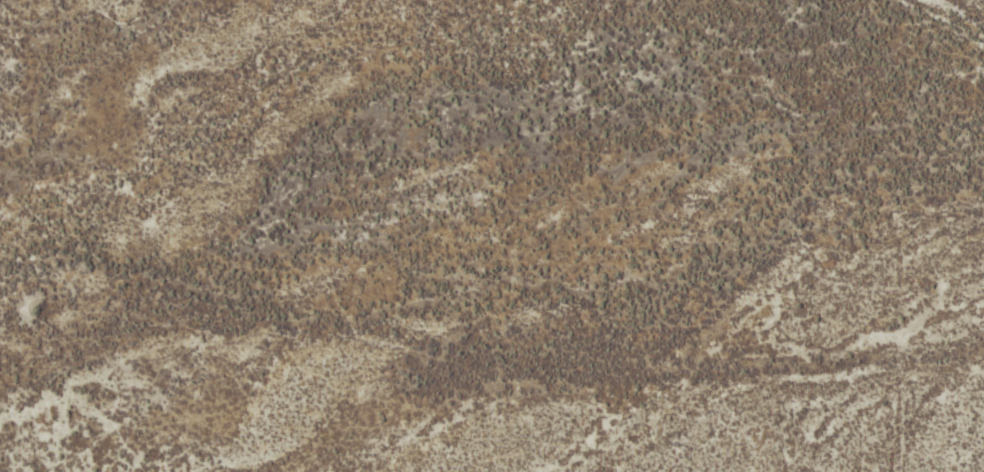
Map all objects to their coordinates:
crop: (492, 236)

